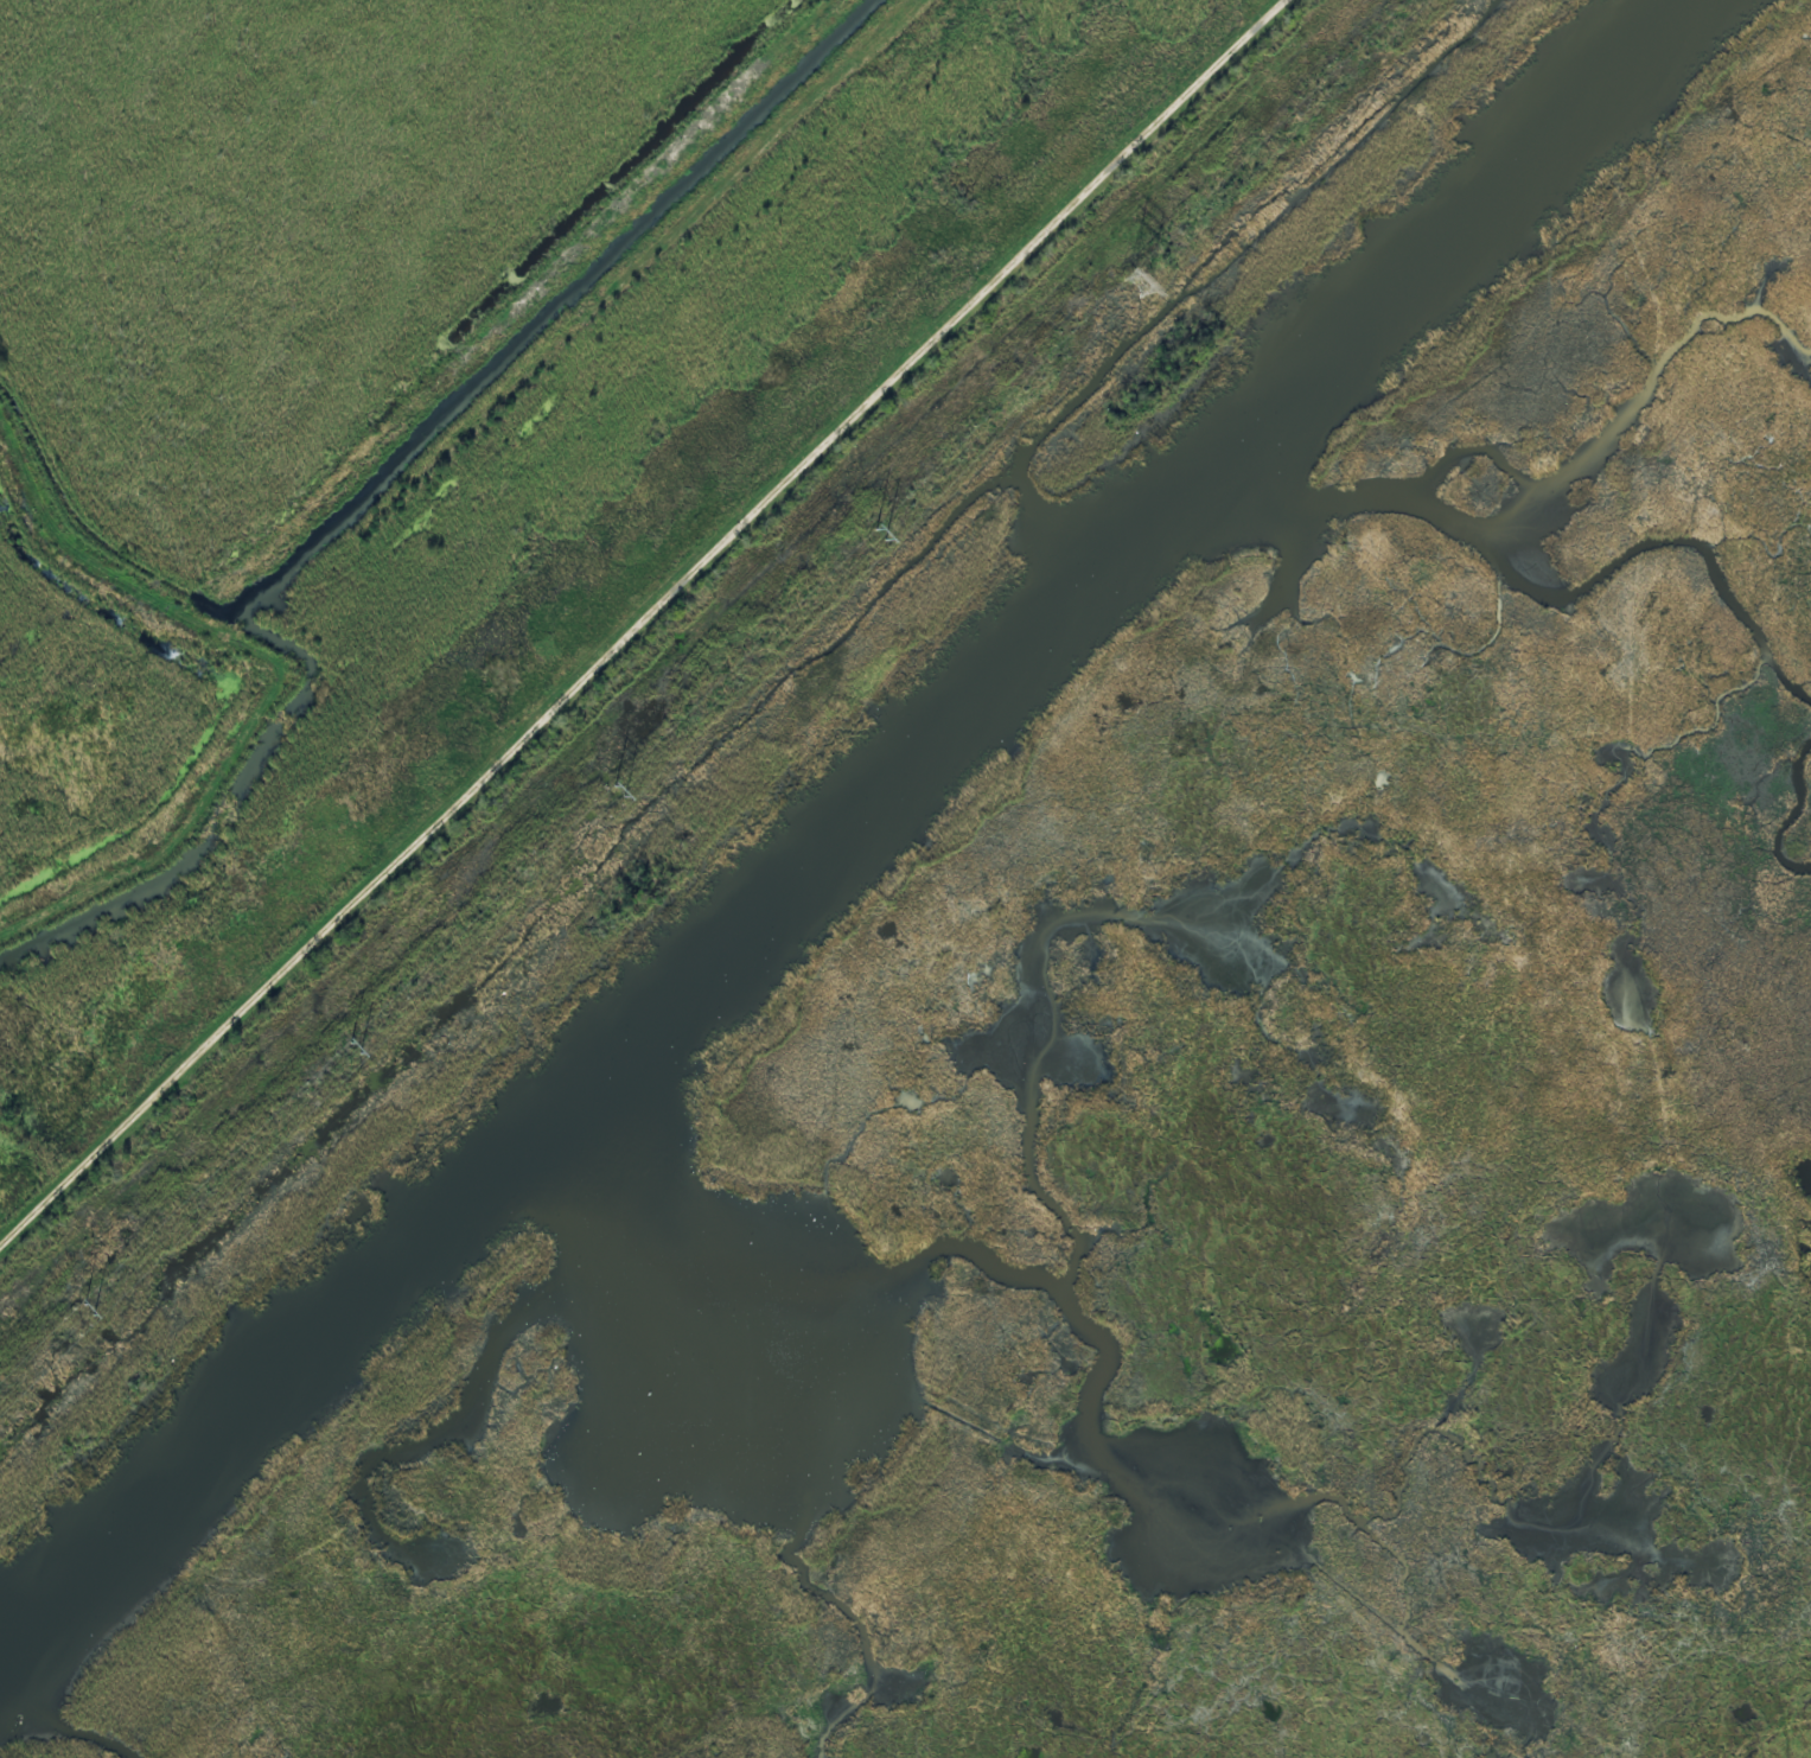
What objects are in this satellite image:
power tower: (1140, 282)
power tower: (620, 792)
power tower: (356, 1047)
power tower: (89, 1310)

